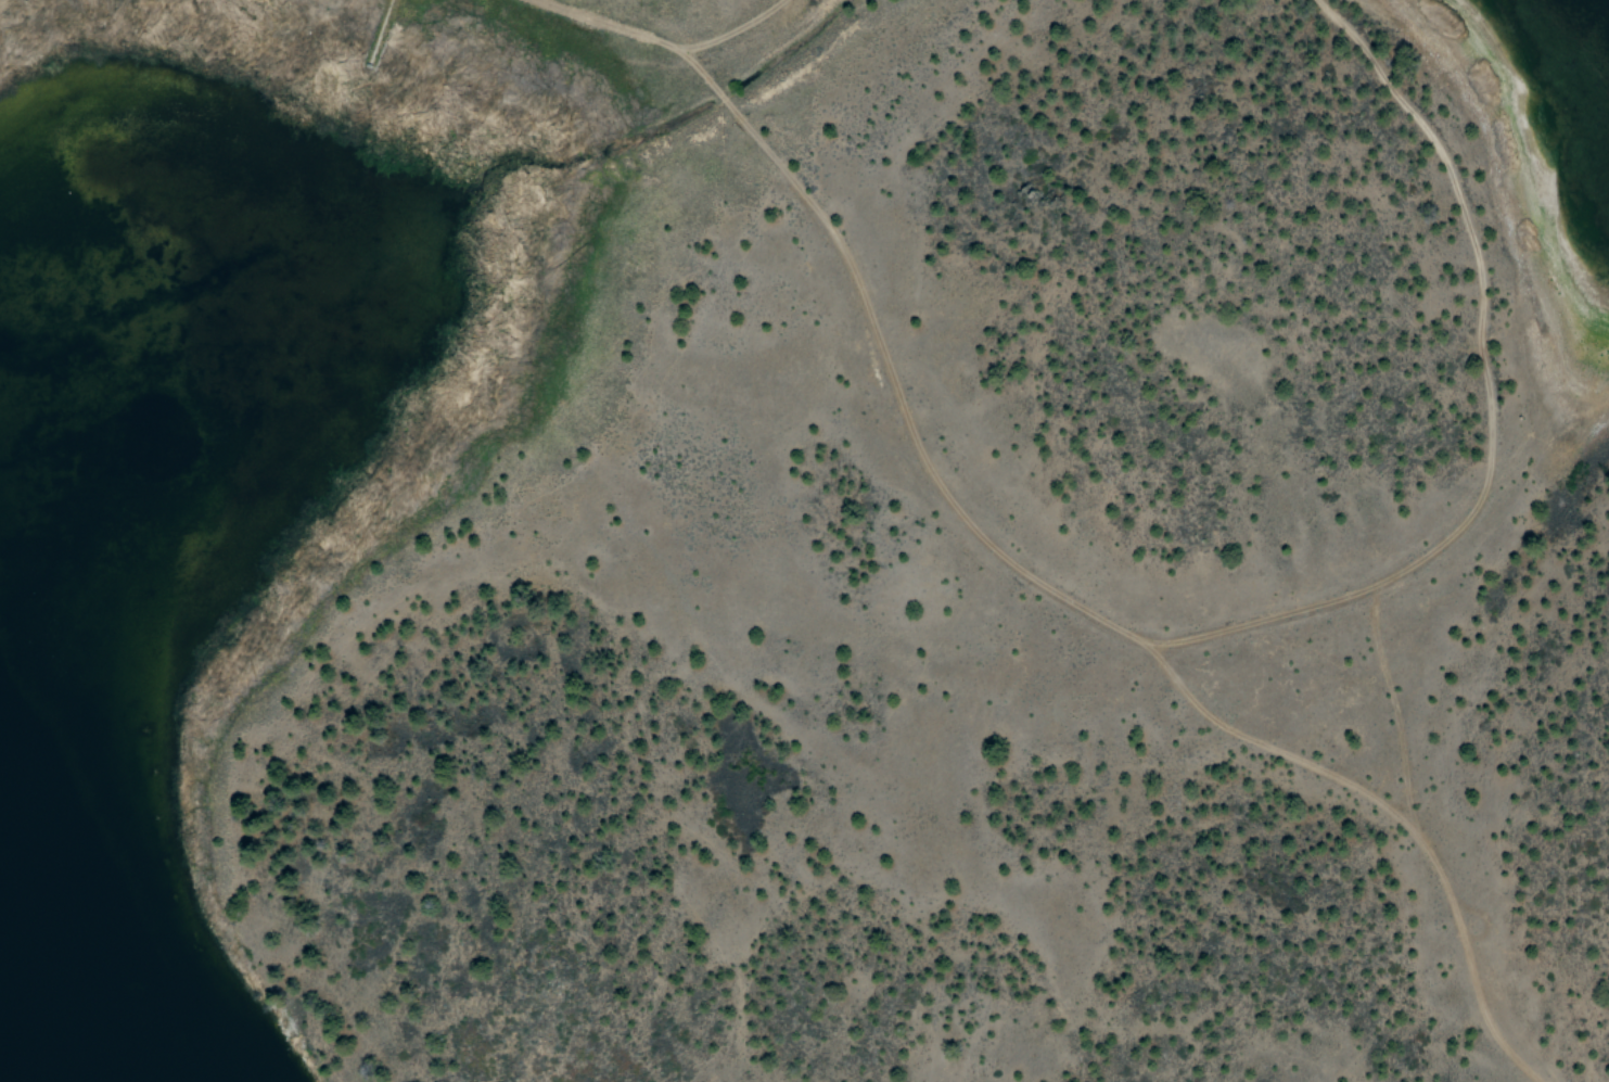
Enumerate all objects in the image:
road: (1026, 567)

